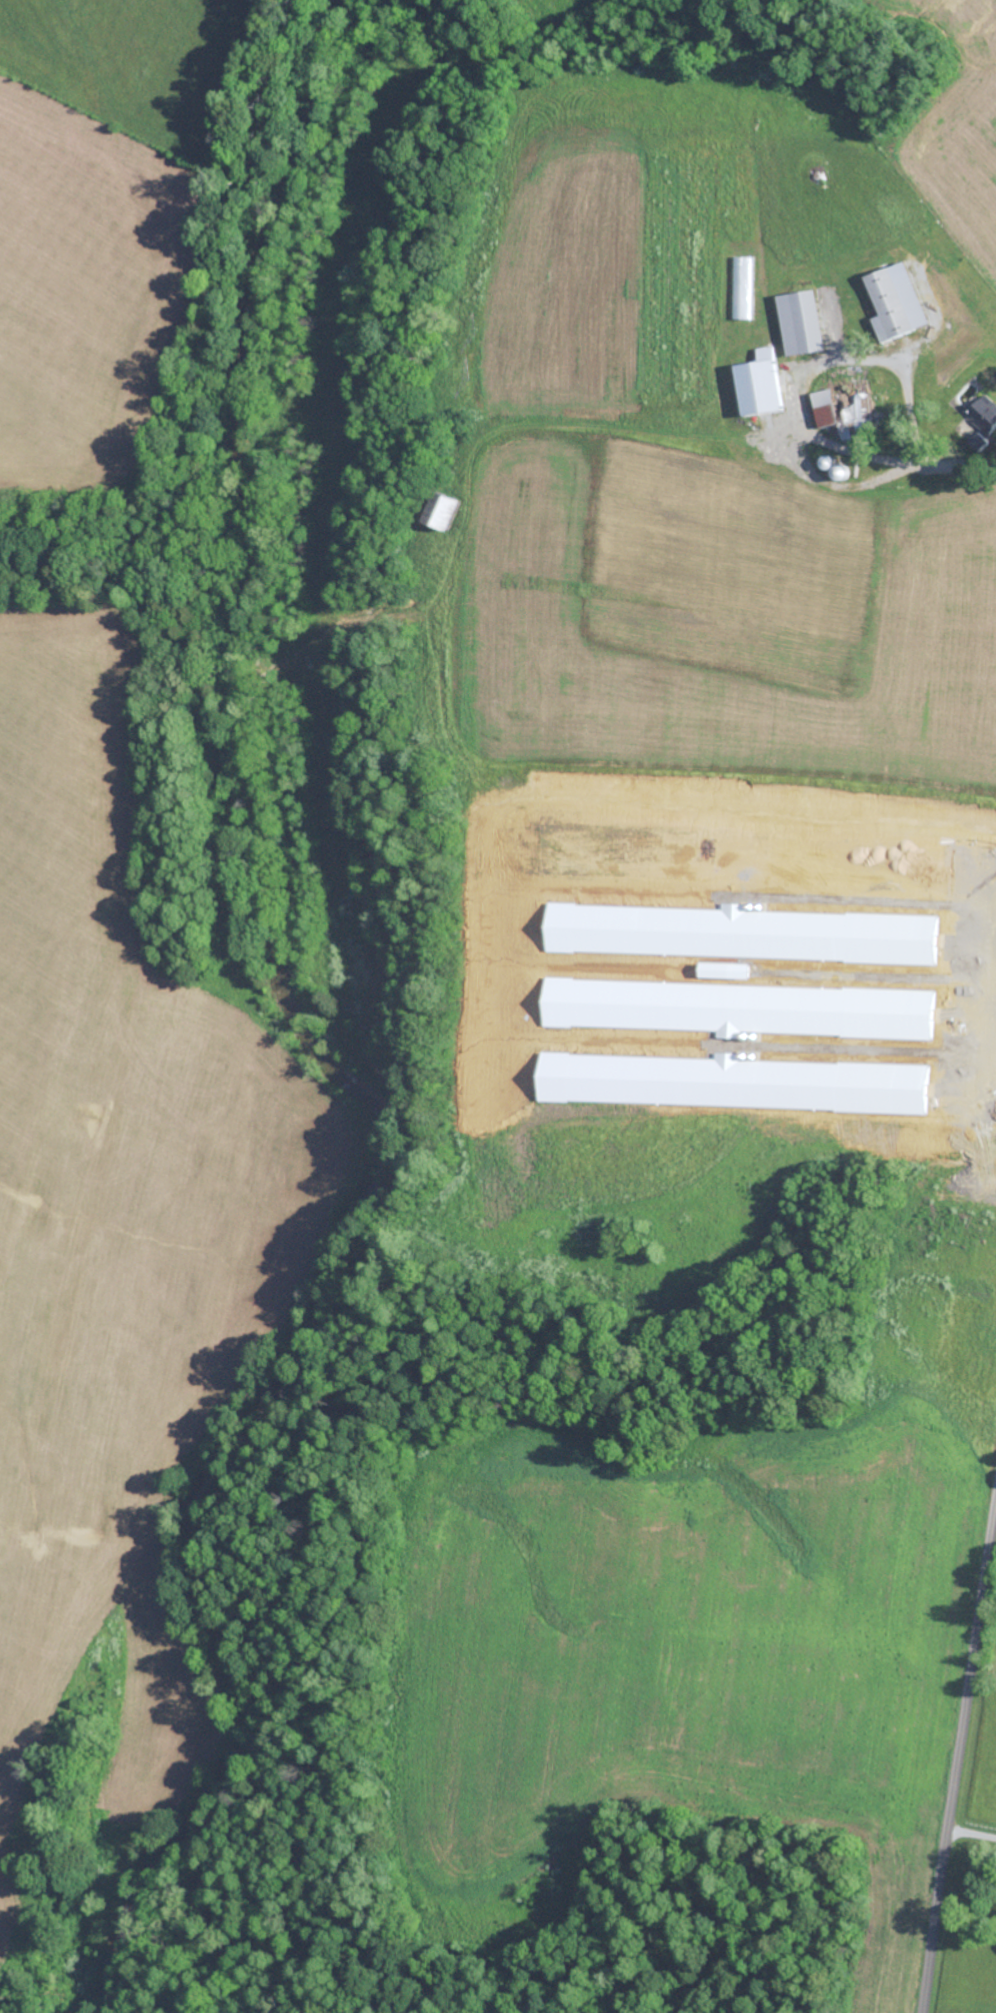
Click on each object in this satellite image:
building: (895, 302)
building: (799, 323)
building: (757, 384)
building: (843, 410)
building: (983, 413)
building: (439, 512)
building: (736, 933)
building: (737, 1008)
road: (958, 1751)

